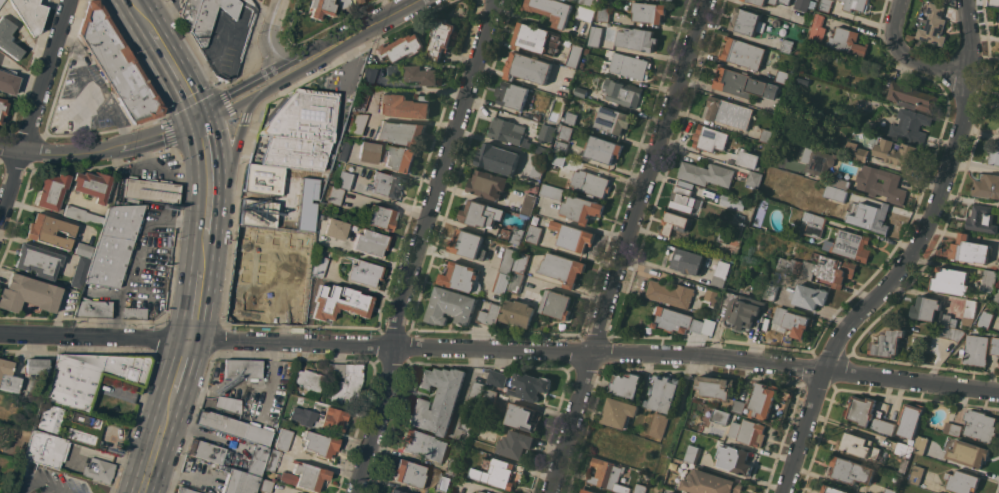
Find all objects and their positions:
building: (1, 1)
building: (357, 1)
building: (769, 2)
building: (997, 2)
building: (588, 3)
building: (343, 4)
building: (855, 4)
building: (802, 5)
building: (825, 5)
building: (320, 9)
building: (552, 10)
building: (649, 11)
building: (189, 12)
building: (604, 12)
building: (585, 13)
building: (30, 14)
road: (141, 16)
building: (746, 21)
building: (776, 22)
building: (214, 23)
building: (934, 24)
road: (376, 26)
building: (817, 27)
road: (273, 34)
building: (595, 35)
building: (441, 38)
building: (536, 38)
building: (8, 39)
building: (638, 39)
building: (846, 41)
building: (807, 43)
building: (786, 45)
building: (401, 47)
building: (585, 52)
building: (743, 53)
building: (574, 56)
road: (908, 58)
building: (117, 64)
building: (630, 65)
building: (527, 67)
building: (394, 71)
building: (422, 74)
road: (176, 76)
road: (291, 77)
building: (784, 77)
road: (258, 79)
building: (802, 80)
building: (8, 82)
building: (742, 84)
building: (364, 89)
building: (581, 91)
building: (622, 92)
building: (512, 95)
building: (912, 96)
building: (768, 104)
building: (404, 105)
building: (2, 107)
road: (35, 111)
road: (227, 111)
building: (727, 112)
building: (537, 116)
building: (304, 117)
building: (571, 118)
building: (613, 119)
traffic signals: (200, 121)
building: (871, 124)
building: (358, 125)
building: (911, 125)
building: (506, 130)
building: (401, 132)
building: (546, 132)
building: (564, 132)
building: (766, 135)
building: (709, 138)
building: (840, 145)
building: (560, 147)
building: (603, 149)
road: (102, 151)
building: (342, 151)
building: (897, 152)
building: (295, 153)
building: (368, 153)
building: (862, 154)
building: (994, 154)
building: (400, 158)
building: (498, 158)
building: (748, 158)
building: (557, 159)
building: (817, 160)
building: (538, 166)
building: (705, 173)
road: (227, 174)
road: (647, 174)
building: (264, 179)
building: (753, 179)
building: (345, 180)
building: (591, 183)
building: (842, 183)
building: (882, 183)
building: (387, 184)
building: (487, 184)
building: (92, 185)
road: (209, 185)
building: (315, 185)
building: (987, 186)
building: (52, 191)
building: (150, 191)
building: (551, 191)
building: (837, 193)
building: (711, 194)
building: (334, 195)
building: (685, 198)
building: (732, 201)
building: (528, 204)
building: (581, 209)
building: (310, 211)
building: (258, 213)
building: (480, 214)
building: (83, 216)
building: (381, 217)
building: (874, 217)
building: (982, 218)
building: (534, 219)
building: (674, 222)
building: (817, 226)
building: (335, 229)
building: (49, 231)
building: (533, 233)
building: (511, 234)
building: (723, 234)
building: (572, 236)
building: (370, 243)
building: (465, 243)
building: (114, 245)
road: (423, 245)
building: (851, 245)
building: (970, 249)
building: (83, 250)
building: (253, 256)
building: (508, 260)
road: (910, 260)
building: (38, 261)
building: (687, 261)
building: (521, 262)
building: (319, 266)
building: (562, 268)
building: (821, 269)
building: (80, 272)
building: (364, 273)
building: (720, 273)
building: (459, 276)
building: (515, 280)
building: (989, 280)
building: (951, 281)
building: (502, 283)
building: (772, 291)
building: (670, 293)
building: (28, 294)
building: (997, 295)
road: (198, 296)
building: (810, 296)
building: (711, 298)
building: (340, 303)
building: (248, 304)
building: (556, 304)
building: (451, 306)
building: (93, 309)
building: (927, 309)
building: (742, 310)
building: (696, 311)
building: (969, 311)
building: (518, 312)
building: (134, 314)
building: (489, 315)
building: (986, 319)
building: (677, 320)
building: (946, 320)
building: (793, 321)
building: (951, 332)
building: (888, 342)
building: (994, 345)
road: (500, 349)
building: (975, 350)
building: (998, 364)
building: (290, 365)
building: (36, 367)
building: (242, 369)
road: (179, 372)
building: (8, 377)
building: (90, 377)
building: (496, 379)
building: (308, 380)
building: (345, 383)
building: (626, 384)
building: (530, 385)
building: (715, 387)
building: (476, 391)
building: (663, 394)
building: (489, 397)
building: (437, 399)
building: (764, 399)
building: (219, 402)
building: (740, 406)
building: (862, 409)
building: (618, 412)
building: (722, 416)
building: (522, 417)
building: (50, 418)
building: (333, 419)
building: (910, 419)
building: (305, 420)
building: (468, 420)
road: (569, 422)
building: (660, 424)
road: (675, 424)
building: (883, 425)
building: (981, 425)
building: (234, 428)
building: (953, 428)
building: (84, 429)
building: (749, 432)
building: (283, 439)
building: (319, 444)
building: (515, 444)
building: (920, 444)
building: (424, 445)
building: (859, 445)
road: (156, 448)
building: (46, 449)
building: (904, 449)
building: (968, 453)
building: (694, 454)
building: (231, 456)
building: (736, 459)
building: (271, 460)
building: (903, 465)
building: (99, 470)
building: (852, 470)
building: (452, 472)
building: (409, 473)
building: (498, 473)
building: (916, 474)
building: (608, 475)
building: (305, 476)
building: (238, 480)
building: (962, 481)
parking lot: (50, 482)
road: (41, 483)
building: (712, 483)
building: (265, 486)
building: (640, 488)
building: (833, 489)
building: (186, 490)
building: (889, 490)
building: (396, 491)
building: (587, 491)
building: (483, 492)
building: (505, 492)
building: (596, 492)
building: (670, 492)
building: (673, 492)

